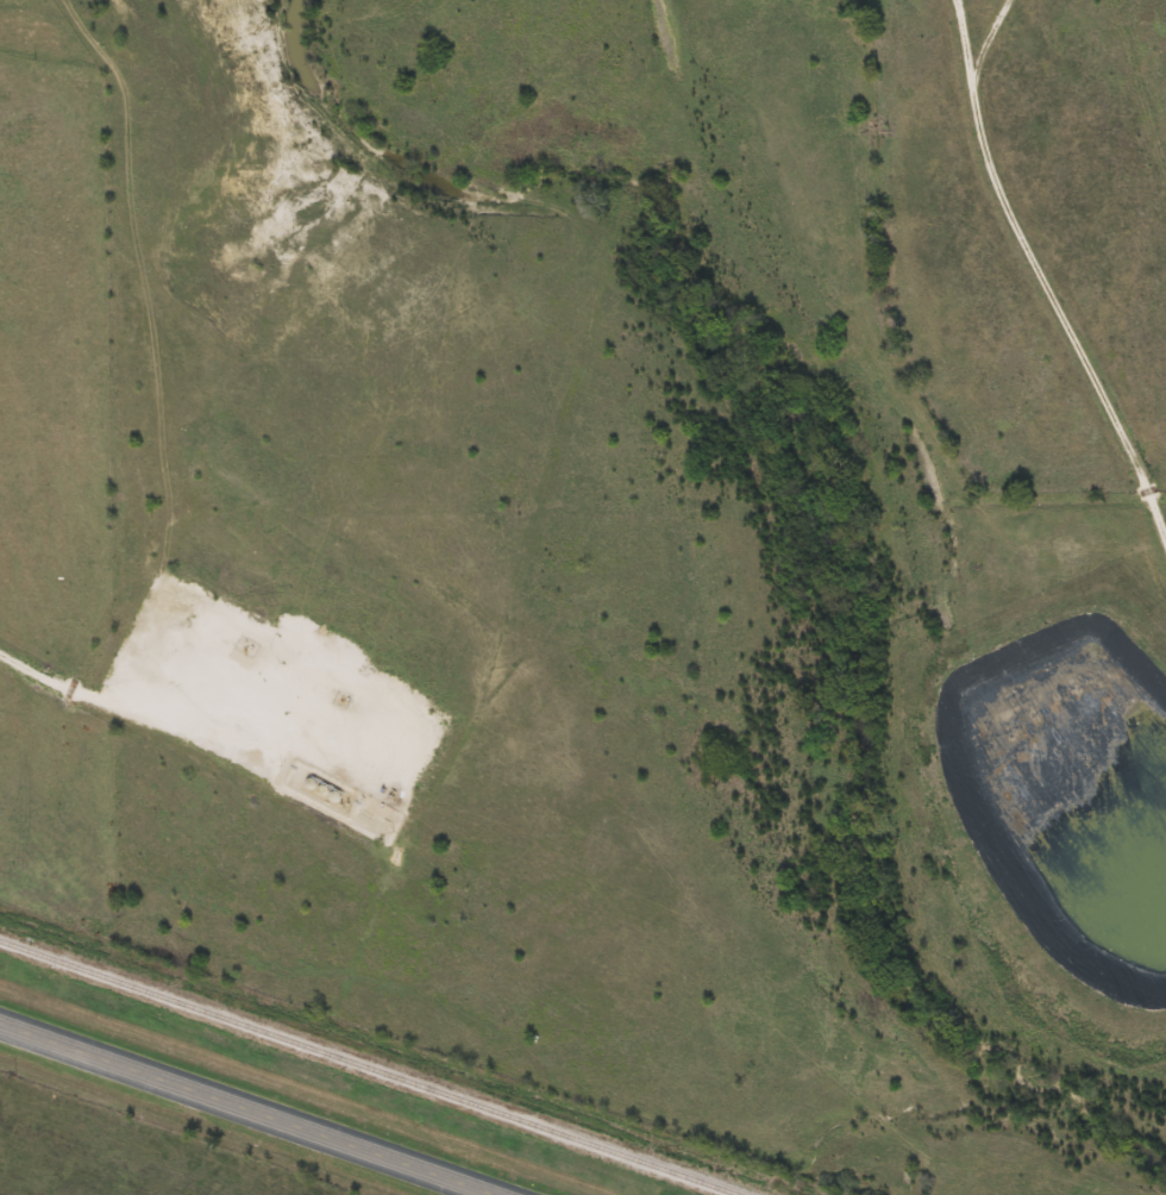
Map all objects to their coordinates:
road: (104, 696)
railway: (369, 1069)
road: (247, 1109)

